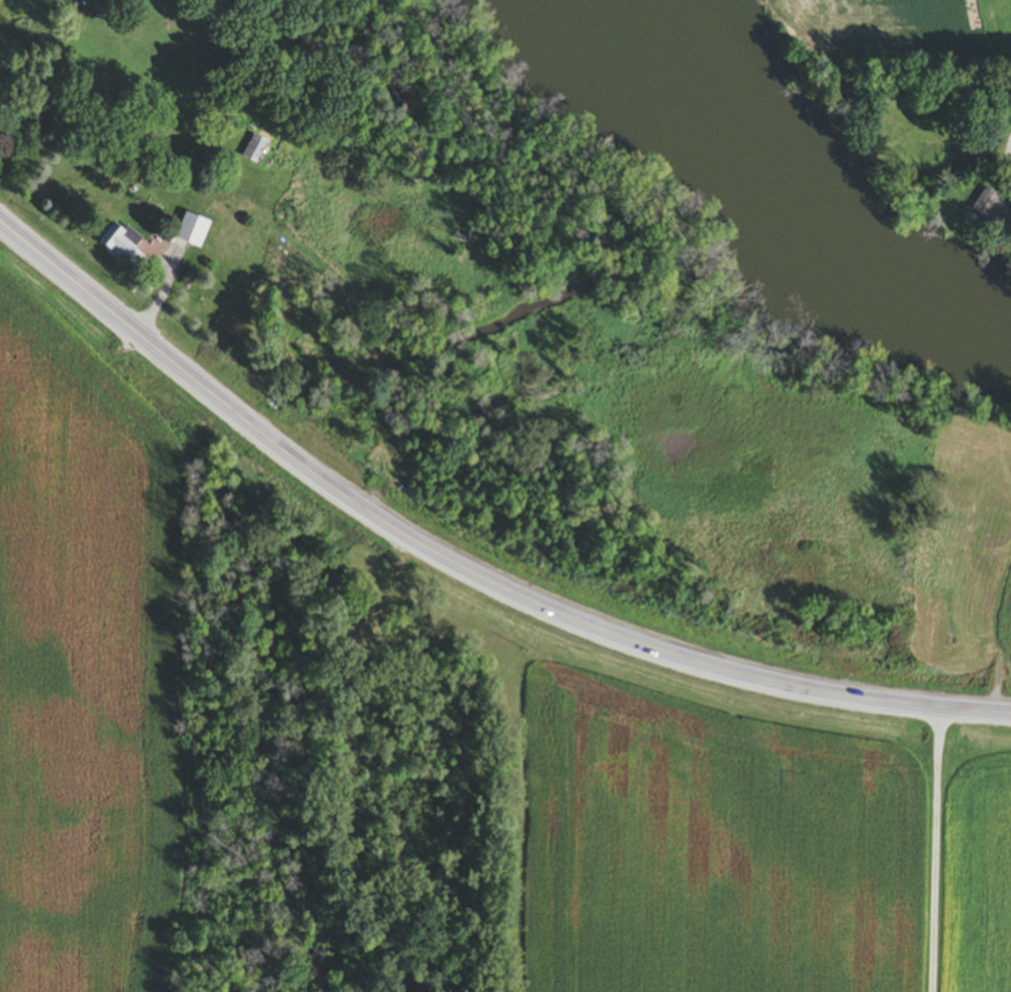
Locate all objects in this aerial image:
building: (255, 150)
river: (799, 187)
building: (993, 209)
building: (121, 241)
road: (459, 564)
road: (936, 849)

